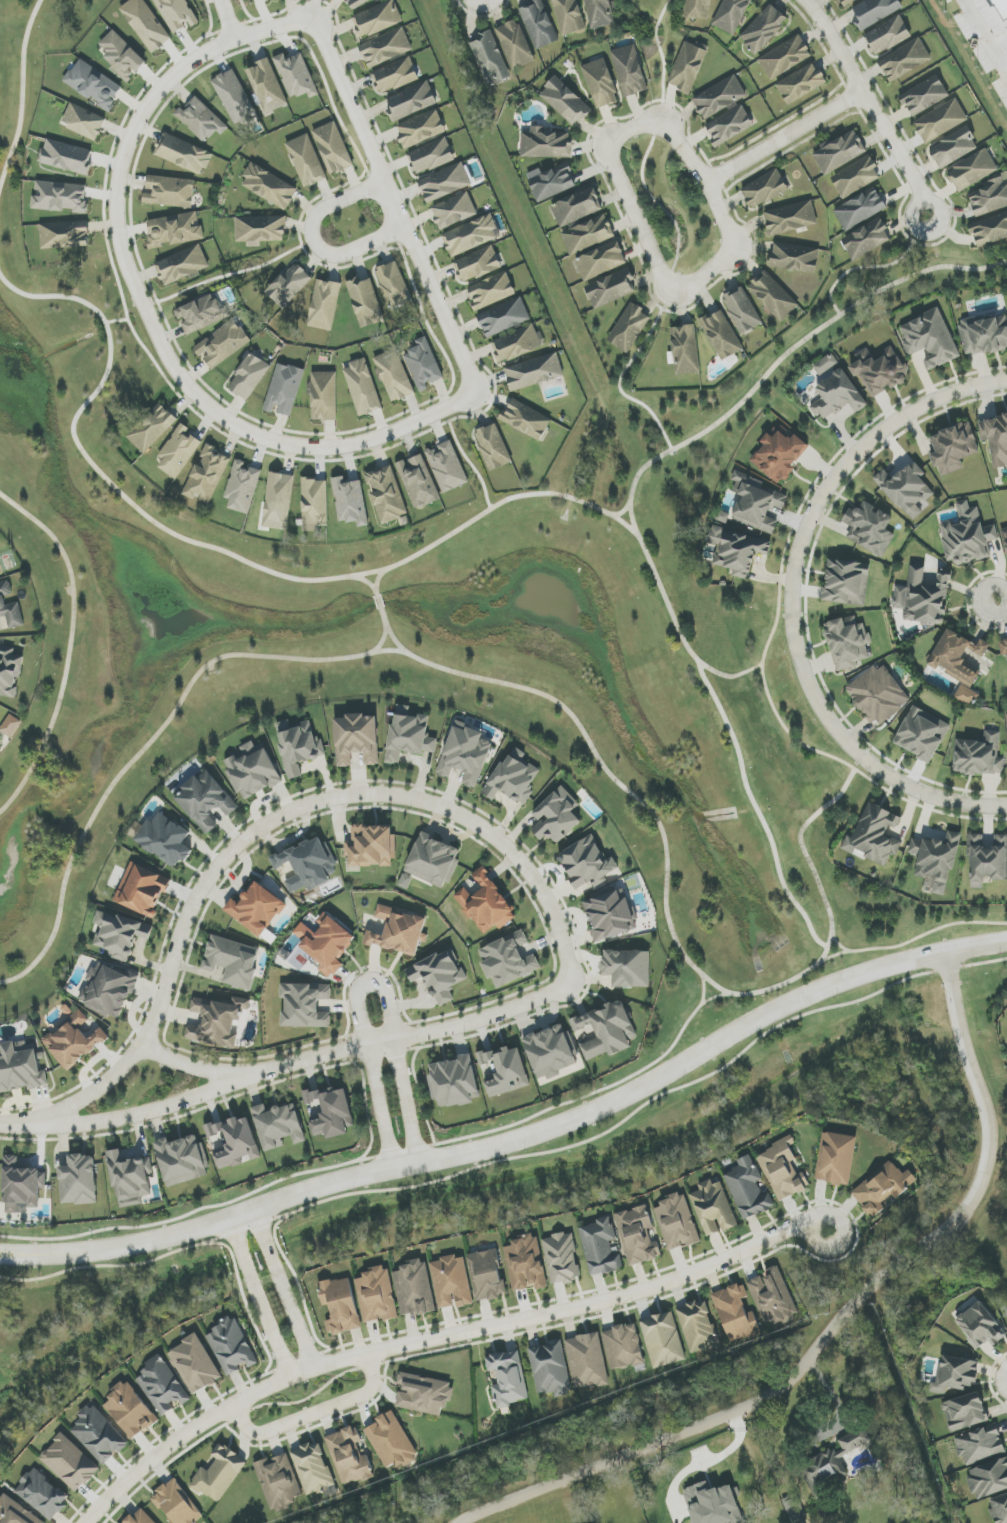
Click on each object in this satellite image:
building: (254, 0)
building: (377, 0)
building: (848, 2)
building: (357, 3)
building: (1002, 7)
building: (698, 9)
building: (874, 12)
building: (177, 13)
building: (600, 13)
building: (731, 15)
building: (569, 16)
road: (210, 17)
road: (483, 17)
road: (231, 19)
building: (377, 19)
building: (145, 24)
building: (539, 24)
building: (763, 29)
road: (217, 32)
building: (887, 35)
building: (515, 44)
building: (386, 47)
building: (121, 56)
building: (490, 58)
building: (785, 58)
building: (904, 60)
road: (21, 65)
building: (687, 67)
building: (629, 70)
building: (296, 75)
building: (394, 75)
building: (600, 83)
building: (801, 83)
building: (93, 84)
building: (267, 85)
building: (924, 95)
building: (234, 97)
building: (719, 97)
building: (411, 101)
building: (565, 101)
road: (870, 105)
building: (201, 120)
building: (941, 120)
building: (84, 121)
building: (729, 125)
building: (421, 129)
road: (783, 136)
building: (546, 144)
road: (650, 144)
building: (333, 148)
building: (953, 148)
building: (839, 152)
building: (183, 154)
building: (431, 156)
building: (67, 157)
road: (8, 160)
building: (306, 161)
building: (972, 170)
building: (856, 177)
road: (132, 180)
building: (445, 182)
building: (551, 182)
building: (269, 187)
building: (764, 189)
building: (169, 191)
building: (990, 196)
building: (60, 197)
road: (397, 203)
building: (577, 207)
building: (860, 209)
building: (454, 211)
building: (791, 218)
road: (639, 224)
road: (102, 226)
building: (261, 229)
building: (174, 230)
building: (989, 230)
road: (132, 231)
building: (65, 234)
building: (588, 234)
building: (471, 235)
road: (314, 239)
building: (866, 239)
road: (929, 244)
building: (795, 258)
building: (600, 261)
building: (477, 264)
building: (182, 265)
road: (873, 266)
road: (237, 271)
road: (146, 276)
road: (149, 281)
building: (289, 285)
building: (393, 285)
building: (610, 288)
building: (491, 291)
building: (772, 296)
road: (78, 299)
building: (365, 302)
building: (324, 305)
road: (146, 306)
building: (742, 311)
building: (200, 313)
road: (128, 317)
building: (504, 317)
road: (117, 320)
building: (629, 328)
building: (721, 335)
building: (983, 335)
road: (172, 336)
building: (930, 339)
building: (517, 343)
building: (222, 344)
road: (795, 346)
building: (685, 349)
road: (477, 353)
building: (825, 364)
building: (423, 365)
road: (623, 371)
building: (879, 371)
building: (534, 372)
road: (195, 373)
building: (394, 375)
road: (488, 376)
building: (249, 377)
building: (362, 387)
building: (284, 390)
road: (489, 394)
building: (324, 395)
building: (838, 396)
road: (184, 403)
road: (83, 407)
road: (474, 410)
building: (526, 419)
building: (152, 428)
road: (856, 434)
building: (996, 439)
building: (493, 447)
building: (953, 448)
building: (178, 452)
building: (779, 455)
road: (466, 460)
building: (447, 466)
building: (208, 475)
building: (418, 481)
building: (242, 487)
building: (906, 489)
building: (386, 494)
road: (509, 498)
building: (278, 501)
building: (350, 501)
building: (756, 502)
building: (315, 504)
road: (620, 512)
road: (162, 527)
building: (869, 528)
building: (968, 537)
building: (1004, 538)
building: (736, 551)
building: (0, 571)
road: (346, 576)
road: (763, 577)
building: (846, 582)
road: (372, 588)
road: (375, 592)
building: (923, 598)
road: (793, 599)
road: (999, 600)
road: (377, 601)
building: (10, 607)
road: (382, 617)
road: (386, 628)
road: (678, 631)
building: (847, 642)
road: (69, 646)
building: (1003, 647)
building: (958, 662)
building: (9, 671)
road: (521, 687)
road: (768, 694)
building: (877, 695)
building: (10, 726)
building: (409, 734)
building: (922, 734)
building: (357, 739)
building: (298, 746)
building: (466, 753)
building: (979, 756)
building: (253, 770)
building: (513, 780)
building: (205, 800)
road: (925, 807)
road: (755, 808)
building: (557, 816)
road: (271, 820)
building: (875, 835)
building: (165, 840)
building: (371, 846)
building: (987, 860)
building: (433, 861)
building: (936, 861)
building: (587, 863)
building: (308, 865)
building: (405, 881)
building: (142, 890)
building: (486, 904)
building: (256, 909)
building: (609, 915)
building: (398, 931)
building: (120, 934)
road: (913, 939)
building: (326, 943)
road: (837, 944)
building: (508, 960)
building: (233, 961)
building: (627, 968)
building: (439, 976)
road: (368, 985)
building: (108, 989)
road: (702, 1001)
building: (305, 1005)
building: (217, 1021)
building: (607, 1030)
building: (74, 1041)
building: (550, 1052)
road: (289, 1065)
road: (189, 1066)
building: (20, 1067)
building: (506, 1071)
building: (453, 1082)
road: (561, 1104)
building: (331, 1112)
building: (278, 1126)
building: (212, 1130)
road: (517, 1139)
building: (237, 1143)
road: (519, 1158)
building: (836, 1159)
building: (182, 1160)
building: (782, 1170)
building: (130, 1178)
building: (79, 1180)
building: (21, 1186)
building: (882, 1188)
building: (748, 1189)
building: (713, 1208)
road: (197, 1210)
building: (677, 1222)
building: (637, 1235)
building: (601, 1247)
building: (561, 1258)
building: (526, 1264)
building: (486, 1275)
building: (451, 1282)
road: (284, 1288)
building: (414, 1288)
building: (376, 1295)
road: (259, 1297)
building: (772, 1297)
building: (340, 1305)
building: (736, 1314)
road: (840, 1320)
building: (980, 1326)
building: (698, 1327)
road: (441, 1336)
building: (663, 1340)
building: (231, 1347)
building: (623, 1347)
road: (996, 1354)
building: (587, 1361)
building: (195, 1364)
building: (550, 1369)
building: (955, 1374)
road: (993, 1376)
building: (508, 1378)
building: (162, 1386)
building: (423, 1394)
road: (308, 1398)
road: (998, 1408)
building: (129, 1410)
building: (965, 1412)
road: (314, 1413)
road: (1004, 1427)
building: (99, 1435)
building: (391, 1441)
building: (979, 1445)
building: (349, 1456)
building: (830, 1462)
building: (69, 1463)
building: (312, 1468)
building: (219, 1473)
building: (989, 1478)
building: (279, 1482)
building: (42, 1494)
building: (177, 1504)
building: (713, 1504)
building: (793, 1508)
building: (999, 1509)
building: (15, 1512)
building: (140, 1517)

